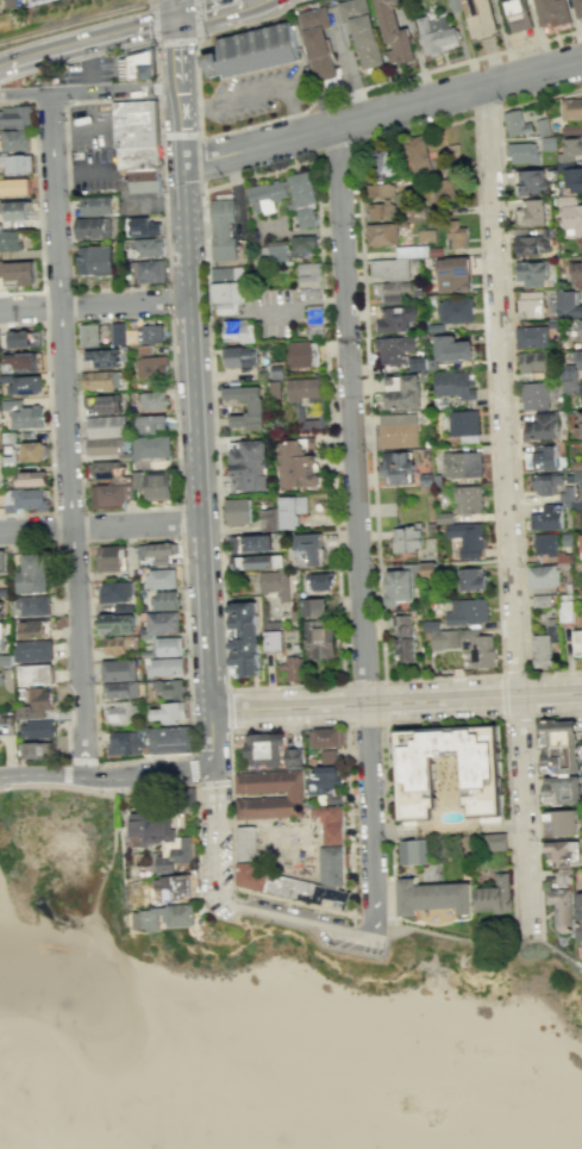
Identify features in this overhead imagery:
road: (152, 1)
building: (10, 2)
building: (453, 5)
road: (90, 8)
road: (176, 8)
road: (211, 8)
building: (576, 8)
road: (121, 11)
building: (550, 12)
building: (515, 14)
traffic signals: (177, 17)
railway: (73, 19)
building: (478, 19)
road: (246, 21)
road: (45, 30)
road: (196, 30)
building: (359, 31)
building: (393, 33)
road: (154, 35)
building: (434, 35)
road: (88, 39)
building: (315, 42)
road: (180, 52)
building: (254, 54)
road: (155, 60)
road: (346, 64)
building: (134, 65)
road: (92, 67)
parking lot: (92, 70)
road: (387, 79)
road: (156, 86)
road: (195, 87)
road: (117, 93)
road: (26, 95)
parking lot: (259, 95)
road: (232, 100)
road: (49, 104)
road: (289, 108)
building: (570, 108)
road: (383, 110)
road: (484, 112)
building: (15, 118)
road: (63, 123)
building: (517, 123)
building: (134, 124)
road: (182, 125)
road: (80, 126)
parking lot: (90, 126)
road: (473, 126)
building: (542, 126)
building: (571, 129)
road: (180, 136)
building: (17, 140)
building: (547, 142)
building: (570, 148)
building: (417, 150)
building: (522, 154)
building: (138, 157)
building: (383, 161)
road: (200, 162)
building: (17, 164)
road: (81, 170)
parking lot: (94, 173)
building: (570, 176)
building: (144, 181)
building: (530, 181)
building: (13, 187)
building: (380, 189)
road: (163, 191)
building: (446, 191)
building: (299, 192)
building: (265, 195)
road: (37, 201)
building: (98, 206)
building: (14, 211)
building: (380, 211)
building: (530, 212)
building: (570, 214)
building: (414, 216)
building: (303, 217)
building: (144, 226)
building: (89, 229)
building: (221, 230)
road: (301, 230)
building: (455, 233)
building: (380, 235)
building: (425, 235)
building: (11, 241)
building: (533, 242)
building: (302, 243)
building: (148, 249)
building: (433, 251)
building: (274, 252)
building: (95, 261)
building: (389, 268)
building: (576, 270)
building: (18, 271)
building: (150, 271)
building: (531, 271)
building: (225, 273)
building: (450, 275)
building: (308, 280)
building: (394, 291)
building: (225, 293)
road: (168, 300)
road: (296, 302)
building: (530, 302)
building: (567, 304)
road: (94, 305)
road: (42, 306)
building: (224, 308)
building: (456, 311)
building: (393, 319)
building: (313, 321)
building: (552, 323)
building: (580, 327)
building: (237, 330)
building: (145, 333)
building: (119, 335)
building: (89, 336)
building: (531, 336)
building: (23, 339)
building: (394, 348)
building: (451, 350)
building: (303, 354)
building: (237, 356)
building: (102, 357)
building: (577, 357)
building: (531, 361)
building: (23, 362)
building: (417, 363)
building: (151, 367)
building: (276, 371)
building: (569, 371)
road: (512, 374)
building: (423, 376)
building: (101, 380)
building: (24, 385)
building: (452, 385)
building: (569, 386)
building: (581, 386)
building: (301, 387)
building: (274, 389)
building: (402, 395)
building: (534, 395)
building: (154, 400)
building: (106, 404)
building: (254, 406)
road: (351, 408)
building: (24, 414)
building: (307, 419)
road: (48, 421)
building: (150, 424)
building: (463, 424)
building: (542, 425)
building: (578, 425)
building: (106, 426)
building: (396, 430)
road: (195, 433)
road: (68, 435)
road: (175, 438)
building: (105, 447)
building: (151, 448)
building: (33, 450)
building: (581, 450)
building: (542, 456)
building: (298, 463)
building: (461, 464)
building: (576, 464)
building: (248, 467)
building: (395, 468)
building: (106, 470)
building: (577, 475)
building: (31, 477)
building: (569, 477)
building: (424, 480)
building: (434, 480)
building: (545, 482)
building: (158, 486)
building: (580, 489)
building: (567, 493)
building: (111, 495)
building: (26, 499)
building: (467, 499)
road: (507, 505)
building: (576, 505)
building: (290, 510)
building: (238, 511)
building: (546, 517)
building: (440, 518)
building: (580, 518)
building: (267, 519)
road: (180, 520)
road: (100, 526)
road: (55, 527)
building: (565, 538)
building: (403, 541)
building: (467, 541)
building: (544, 543)
building: (251, 544)
building: (581, 544)
building: (307, 548)
building: (156, 552)
building: (564, 556)
building: (111, 558)
building: (2, 561)
building: (258, 563)
road: (60, 564)
building: (425, 572)
building: (35, 575)
building: (540, 576)
building: (162, 579)
building: (468, 580)
building: (320, 581)
building: (275, 583)
building: (395, 589)
building: (117, 592)
building: (165, 600)
building: (540, 600)
building: (33, 606)
building: (312, 606)
building: (564, 607)
building: (0, 608)
building: (465, 612)
building: (242, 619)
building: (163, 622)
building: (117, 625)
building: (428, 626)
building: (36, 630)
building: (1, 636)
building: (401, 638)
building: (320, 639)
building: (443, 639)
building: (273, 642)
building: (577, 642)
building: (120, 645)
building: (169, 645)
building: (475, 649)
building: (35, 650)
building: (542, 650)
building: (242, 656)
building: (6, 660)
building: (167, 667)
road: (342, 667)
building: (294, 668)
building: (120, 670)
building: (37, 675)
building: (1, 677)
road: (528, 679)
road: (382, 683)
building: (170, 688)
building: (121, 689)
road: (188, 691)
road: (395, 695)
road: (501, 695)
road: (344, 704)
building: (36, 705)
road: (227, 710)
building: (120, 713)
building: (169, 713)
road: (70, 714)
road: (517, 717)
building: (1, 718)
road: (452, 720)
road: (365, 724)
building: (37, 730)
road: (244, 730)
building: (558, 733)
road: (212, 737)
building: (326, 737)
building: (169, 739)
building: (129, 742)
building: (264, 748)
building: (38, 750)
building: (330, 757)
road: (68, 758)
building: (294, 758)
building: (561, 761)
road: (193, 769)
road: (107, 776)
building: (325, 780)
building: (415, 781)
road: (212, 783)
road: (57, 787)
road: (155, 789)
building: (562, 791)
building: (296, 795)
building: (187, 797)
road: (534, 801)
road: (374, 817)
road: (112, 822)
building: (559, 823)
building: (152, 828)
road: (217, 831)
building: (497, 842)
road: (199, 848)
building: (417, 851)
building: (563, 854)
building: (176, 855)
building: (334, 857)
building: (177, 888)
road: (96, 892)
building: (494, 894)
building: (433, 897)
parking lot: (224, 908)
building: (562, 908)
road: (8, 914)
building: (580, 914)
road: (374, 916)
building: (168, 917)
road: (301, 917)
road: (313, 930)
road: (355, 933)
road: (484, 942)
parking lot: (358, 944)
park: (417, 953)
road: (412, 961)

